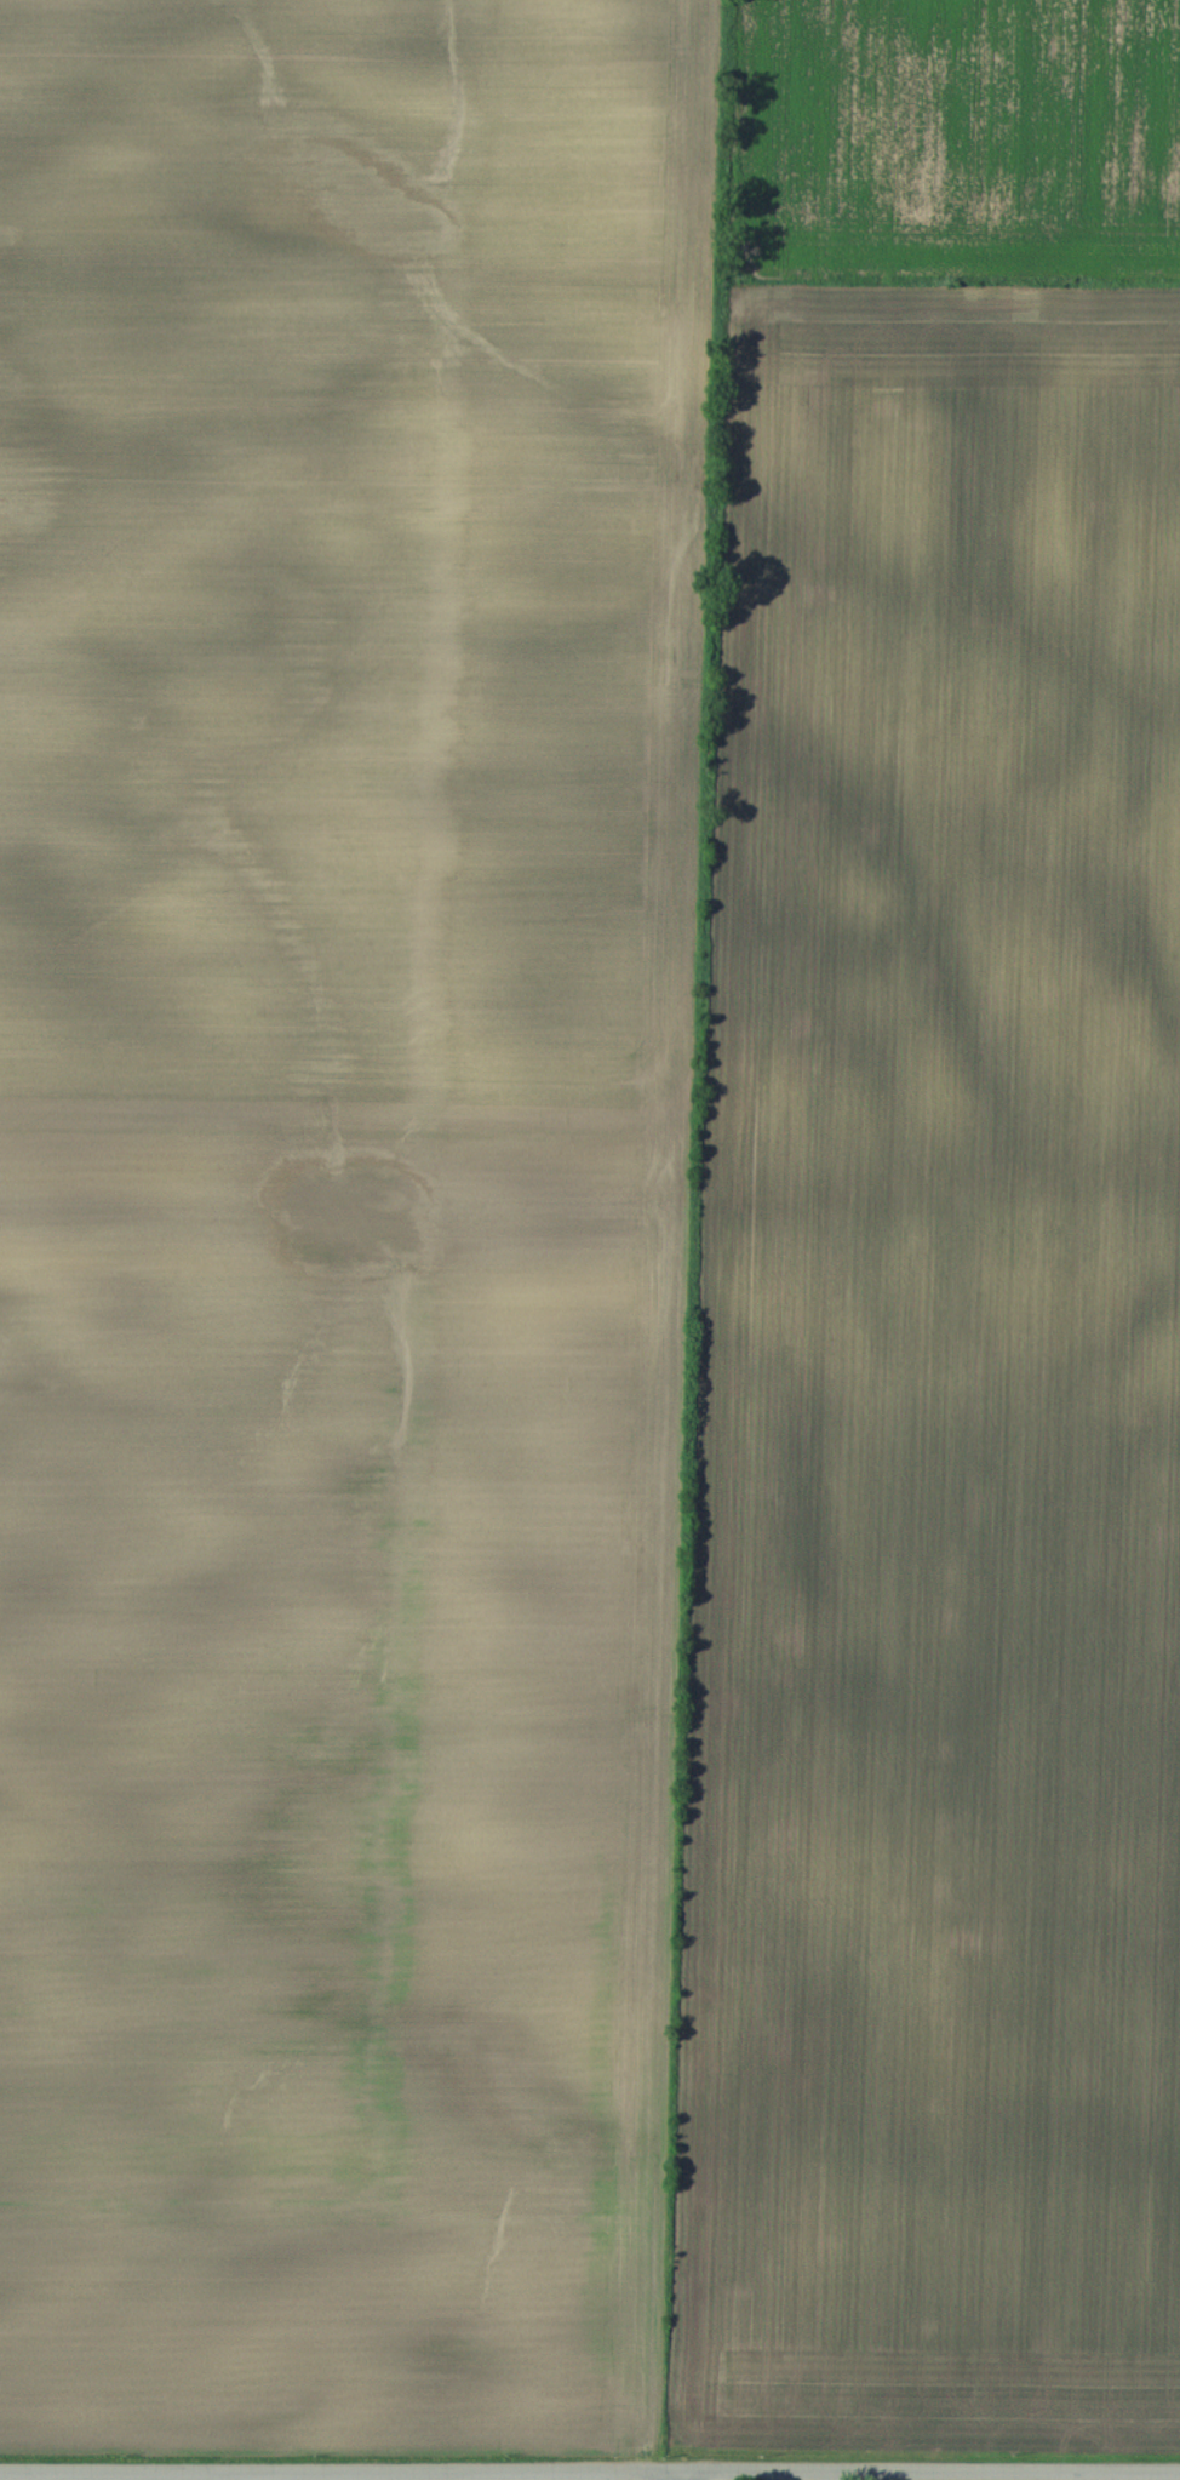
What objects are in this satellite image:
road: (933, 2473)
road: (343, 2475)
road: (686, 2476)

